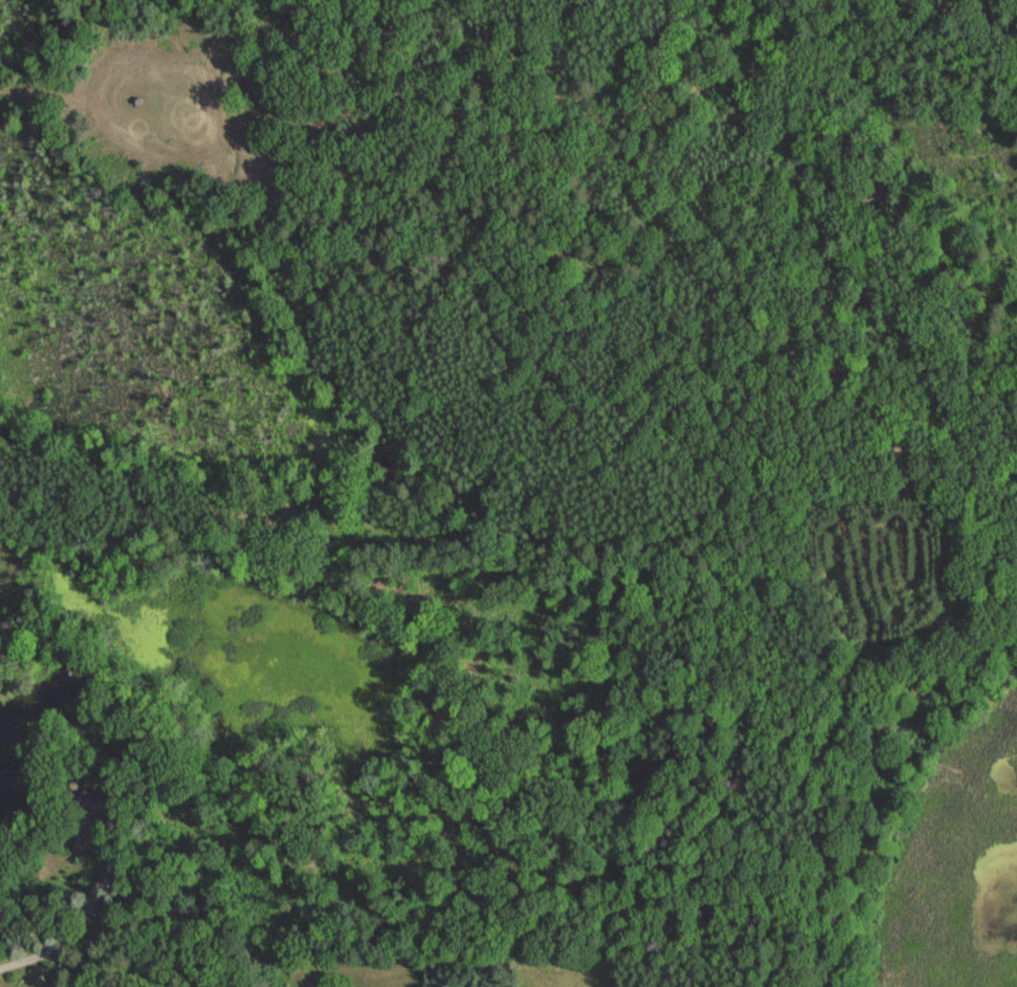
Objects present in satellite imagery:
building: (88, 814)

